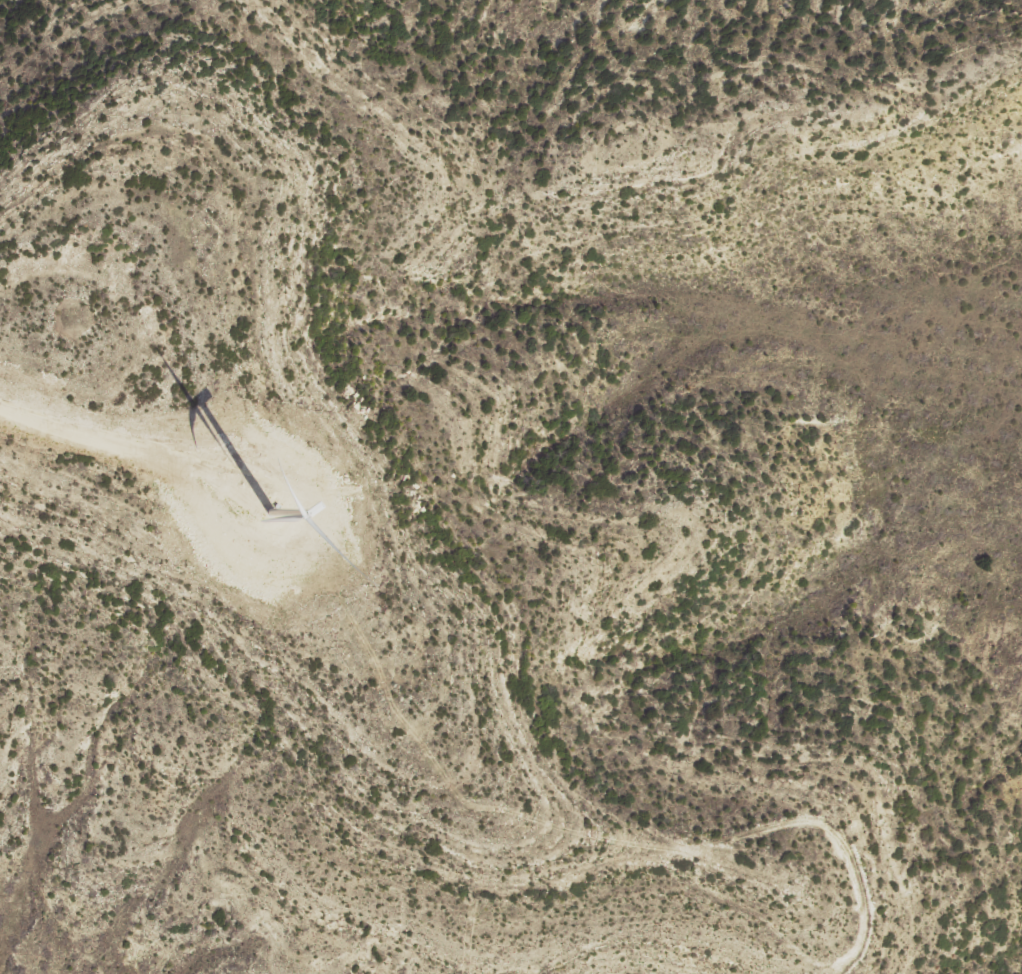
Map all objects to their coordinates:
wind turbine: (256, 510)

